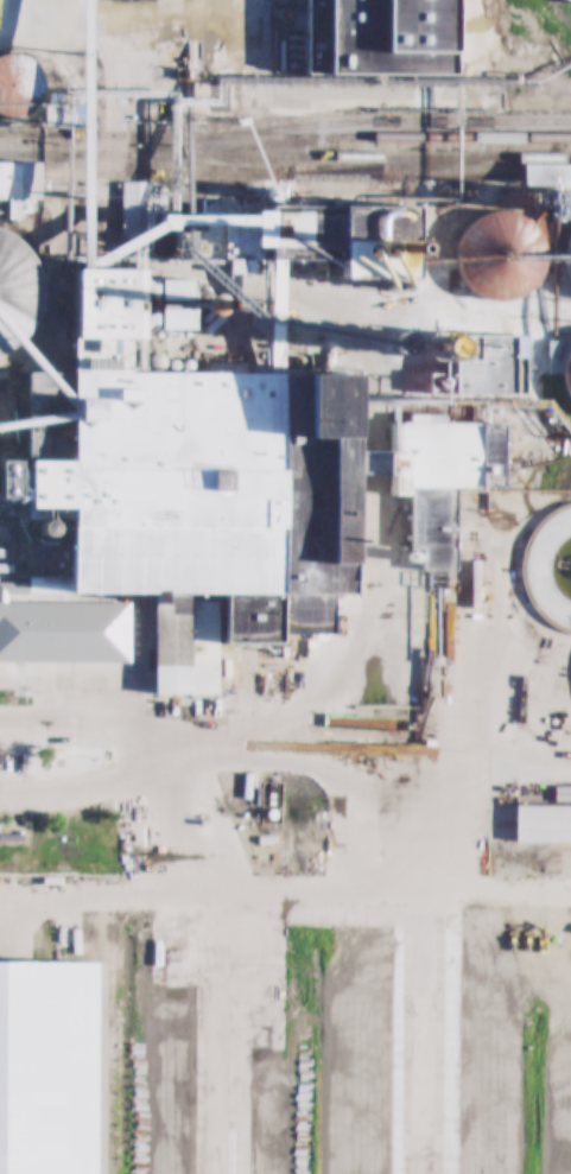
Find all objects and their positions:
road: (18, 30)
building: (380, 37)
road: (512, 57)
building: (19, 83)
storage tank: (19, 83)
railway: (285, 127)
railway: (527, 134)
railway: (279, 137)
railway: (285, 144)
railway: (439, 159)
railway: (285, 176)
road: (281, 184)
building: (373, 236)
building: (500, 254)
storage tank: (500, 254)
building: (569, 254)
storage tank: (569, 254)
building: (15, 291)
storage tank: (15, 291)
building: (557, 354)
building: (467, 370)
building: (566, 373)
storage tank: (566, 373)
building: (230, 472)
building: (9, 605)
building: (88, 622)
building: (6, 655)
road: (62, 677)
road: (40, 723)
road: (120, 737)
road: (364, 756)
road: (83, 789)
road: (189, 823)
building: (545, 825)
road: (421, 826)
road: (254, 894)
road: (218, 1034)
road: (420, 1034)
building: (46, 1067)

